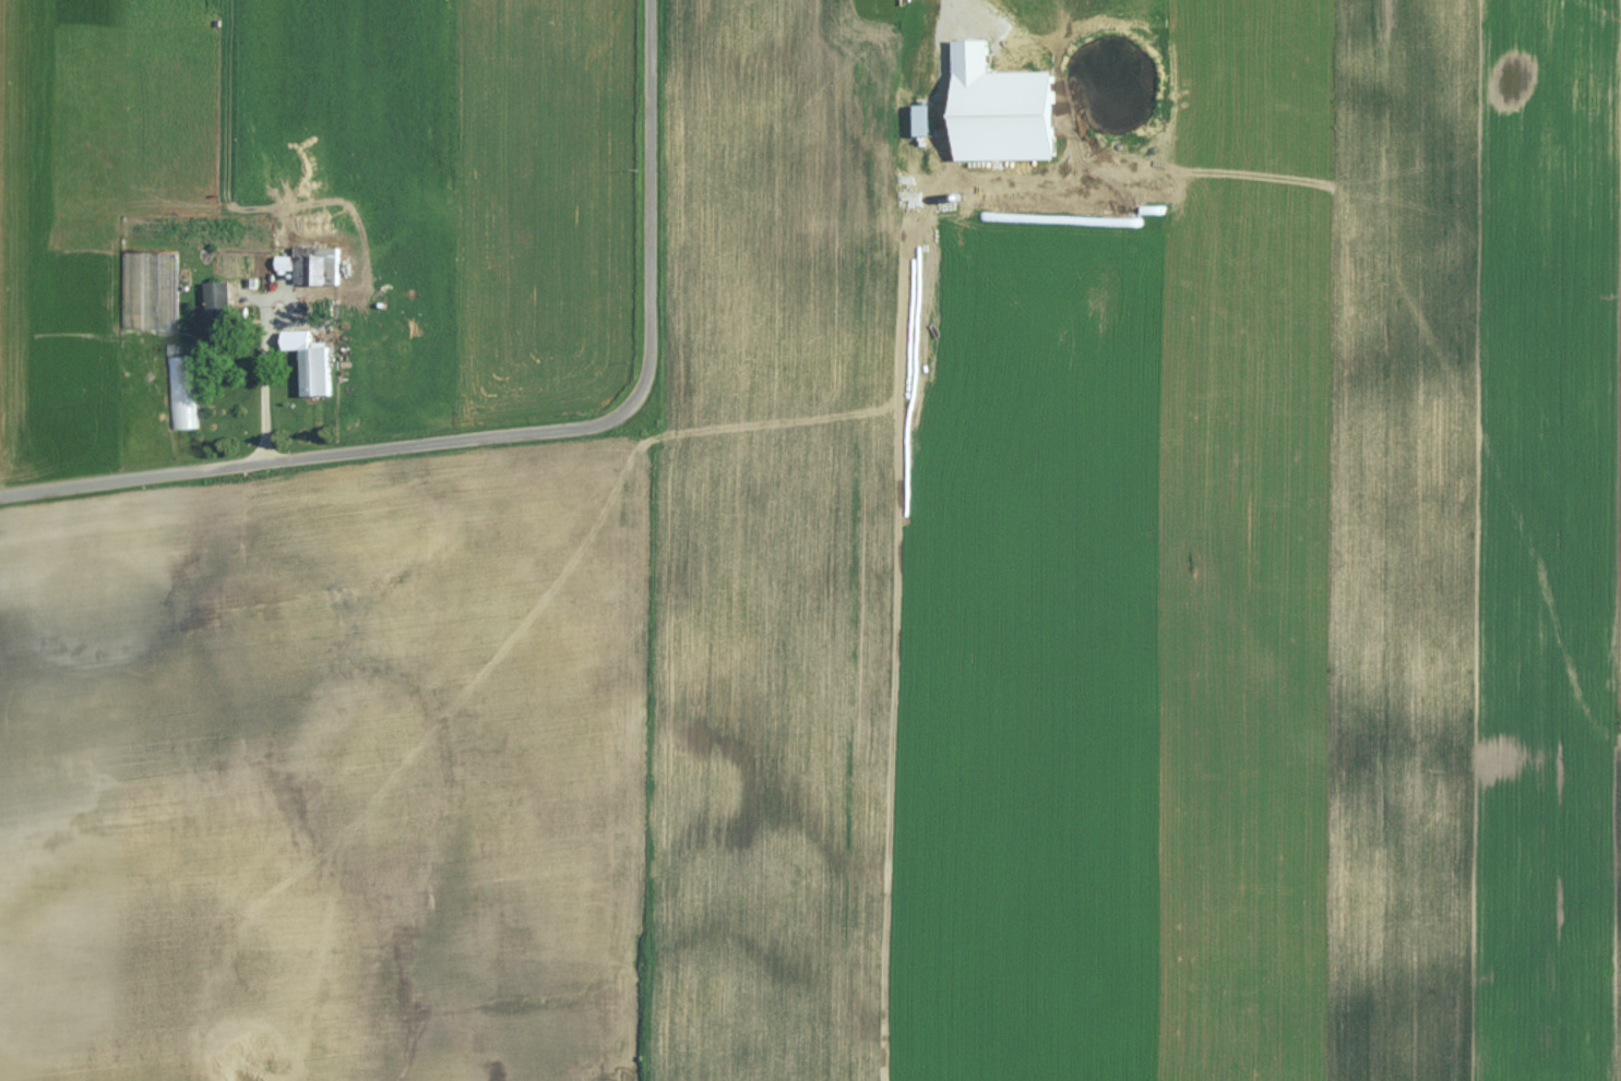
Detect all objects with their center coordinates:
building: (951, 14)
building: (312, 265)
building: (145, 293)
building: (222, 307)
building: (320, 372)
road: (521, 434)

